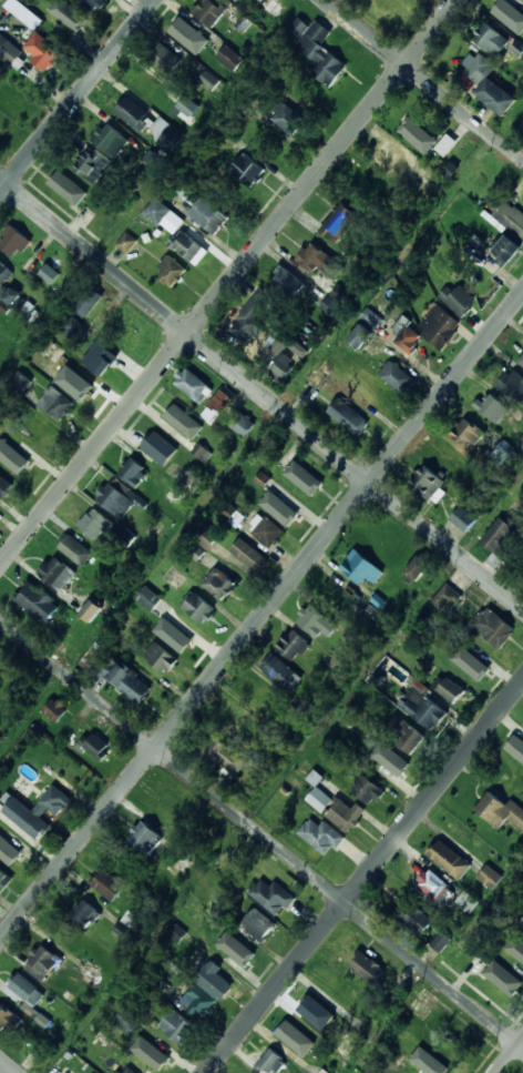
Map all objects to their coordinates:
building: (237, 0)
building: (260, 0)
building: (93, 4)
building: (211, 10)
building: (511, 14)
building: (72, 20)
building: (193, 38)
building: (491, 39)
building: (319, 50)
building: (41, 51)
building: (10, 52)
building: (165, 58)
building: (229, 58)
building: (209, 80)
road: (424, 80)
building: (490, 84)
road: (78, 94)
building: (188, 105)
building: (133, 113)
building: (287, 117)
building: (160, 126)
building: (1, 130)
building: (417, 134)
building: (110, 140)
building: (392, 158)
building: (442, 160)
building: (91, 166)
building: (247, 169)
building: (424, 174)
building: (371, 184)
building: (66, 185)
building: (156, 212)
building: (209, 215)
building: (511, 216)
building: (338, 222)
building: (12, 241)
building: (126, 243)
building: (186, 245)
building: (507, 251)
building: (319, 260)
building: (170, 271)
building: (4, 272)
building: (49, 274)
road: (228, 283)
building: (287, 283)
building: (459, 300)
building: (19, 302)
building: (89, 302)
building: (331, 306)
building: (371, 318)
building: (248, 321)
building: (70, 326)
building: (440, 326)
building: (361, 336)
building: (408, 340)
building: (280, 344)
building: (299, 348)
building: (52, 351)
building: (100, 358)
building: (521, 360)
building: (285, 366)
building: (398, 376)
building: (78, 382)
building: (19, 383)
building: (194, 384)
building: (513, 385)
road: (261, 395)
building: (221, 401)
building: (55, 403)
building: (492, 407)
building: (348, 417)
building: (181, 421)
building: (242, 424)
building: (468, 434)
building: (521, 442)
building: (160, 448)
building: (201, 452)
building: (502, 452)
building: (18, 459)
building: (279, 469)
building: (133, 472)
building: (261, 478)
building: (191, 482)
building: (428, 482)
building: (4, 486)
building: (308, 486)
building: (117, 498)
building: (229, 513)
building: (285, 513)
building: (466, 519)
building: (95, 525)
building: (267, 532)
building: (502, 535)
building: (207, 537)
building: (75, 549)
building: (250, 556)
building: (362, 568)
building: (419, 568)
building: (57, 573)
building: (174, 577)
building: (218, 584)
building: (445, 599)
building: (37, 601)
building: (198, 607)
building: (91, 610)
road: (261, 617)
building: (166, 620)
building: (312, 620)
building: (493, 627)
building: (294, 646)
building: (160, 657)
building: (472, 664)
building: (281, 672)
building: (122, 678)
building: (451, 690)
building: (258, 697)
building: (54, 711)
building: (430, 713)
building: (236, 727)
building: (401, 733)
building: (94, 747)
building: (519, 751)
building: (223, 756)
building: (389, 761)
building: (315, 778)
building: (368, 790)
building: (170, 806)
building: (337, 809)
building: (501, 811)
building: (39, 812)
road: (261, 833)
building: (321, 836)
building: (145, 838)
building: (10, 853)
building: (450, 860)
building: (490, 877)
road: (365, 878)
building: (4, 880)
building: (432, 884)
building: (107, 885)
building: (522, 891)
building: (271, 897)
building: (468, 902)
building: (83, 913)
building: (413, 917)
building: (259, 925)
building: (177, 933)
building: (440, 941)
building: (515, 948)
building: (238, 951)
building: (41, 963)
building: (368, 969)
building: (214, 982)
building: (500, 988)
building: (27, 990)
building: (201, 1002)
building: (126, 1020)
building: (8, 1021)
building: (325, 1022)
building: (178, 1029)
building: (401, 1036)
building: (302, 1049)
road: (509, 1054)
building: (153, 1055)
building: (271, 1062)
building: (433, 1063)
road: (9, 1065)
building: (126, 1070)

